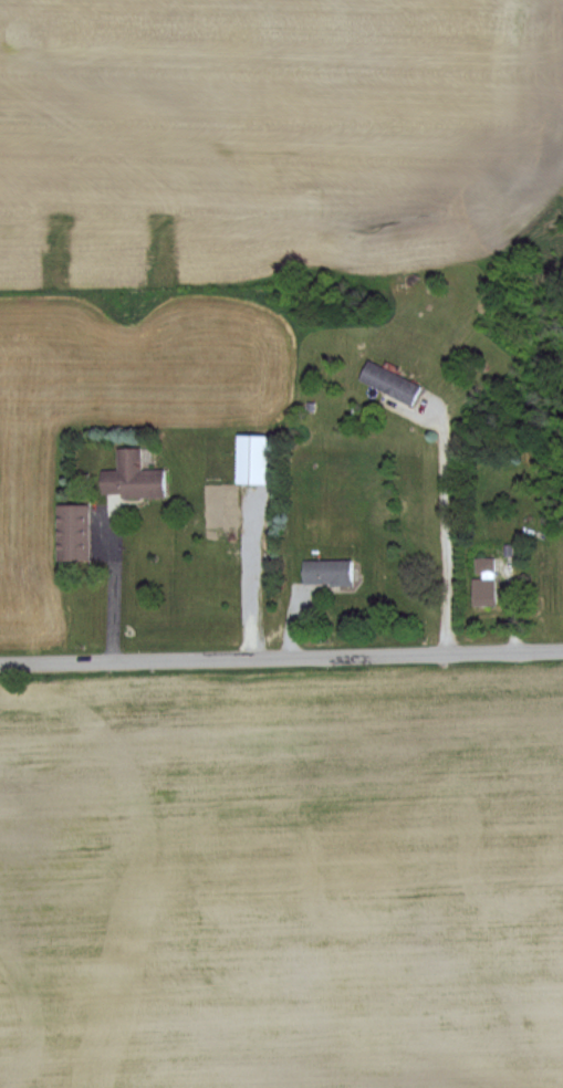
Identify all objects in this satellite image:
building: (385, 202)
building: (389, 383)
building: (249, 459)
building: (129, 475)
road: (447, 525)
building: (70, 532)
building: (325, 571)
road: (258, 575)
building: (481, 580)
road: (113, 587)
road: (281, 655)

